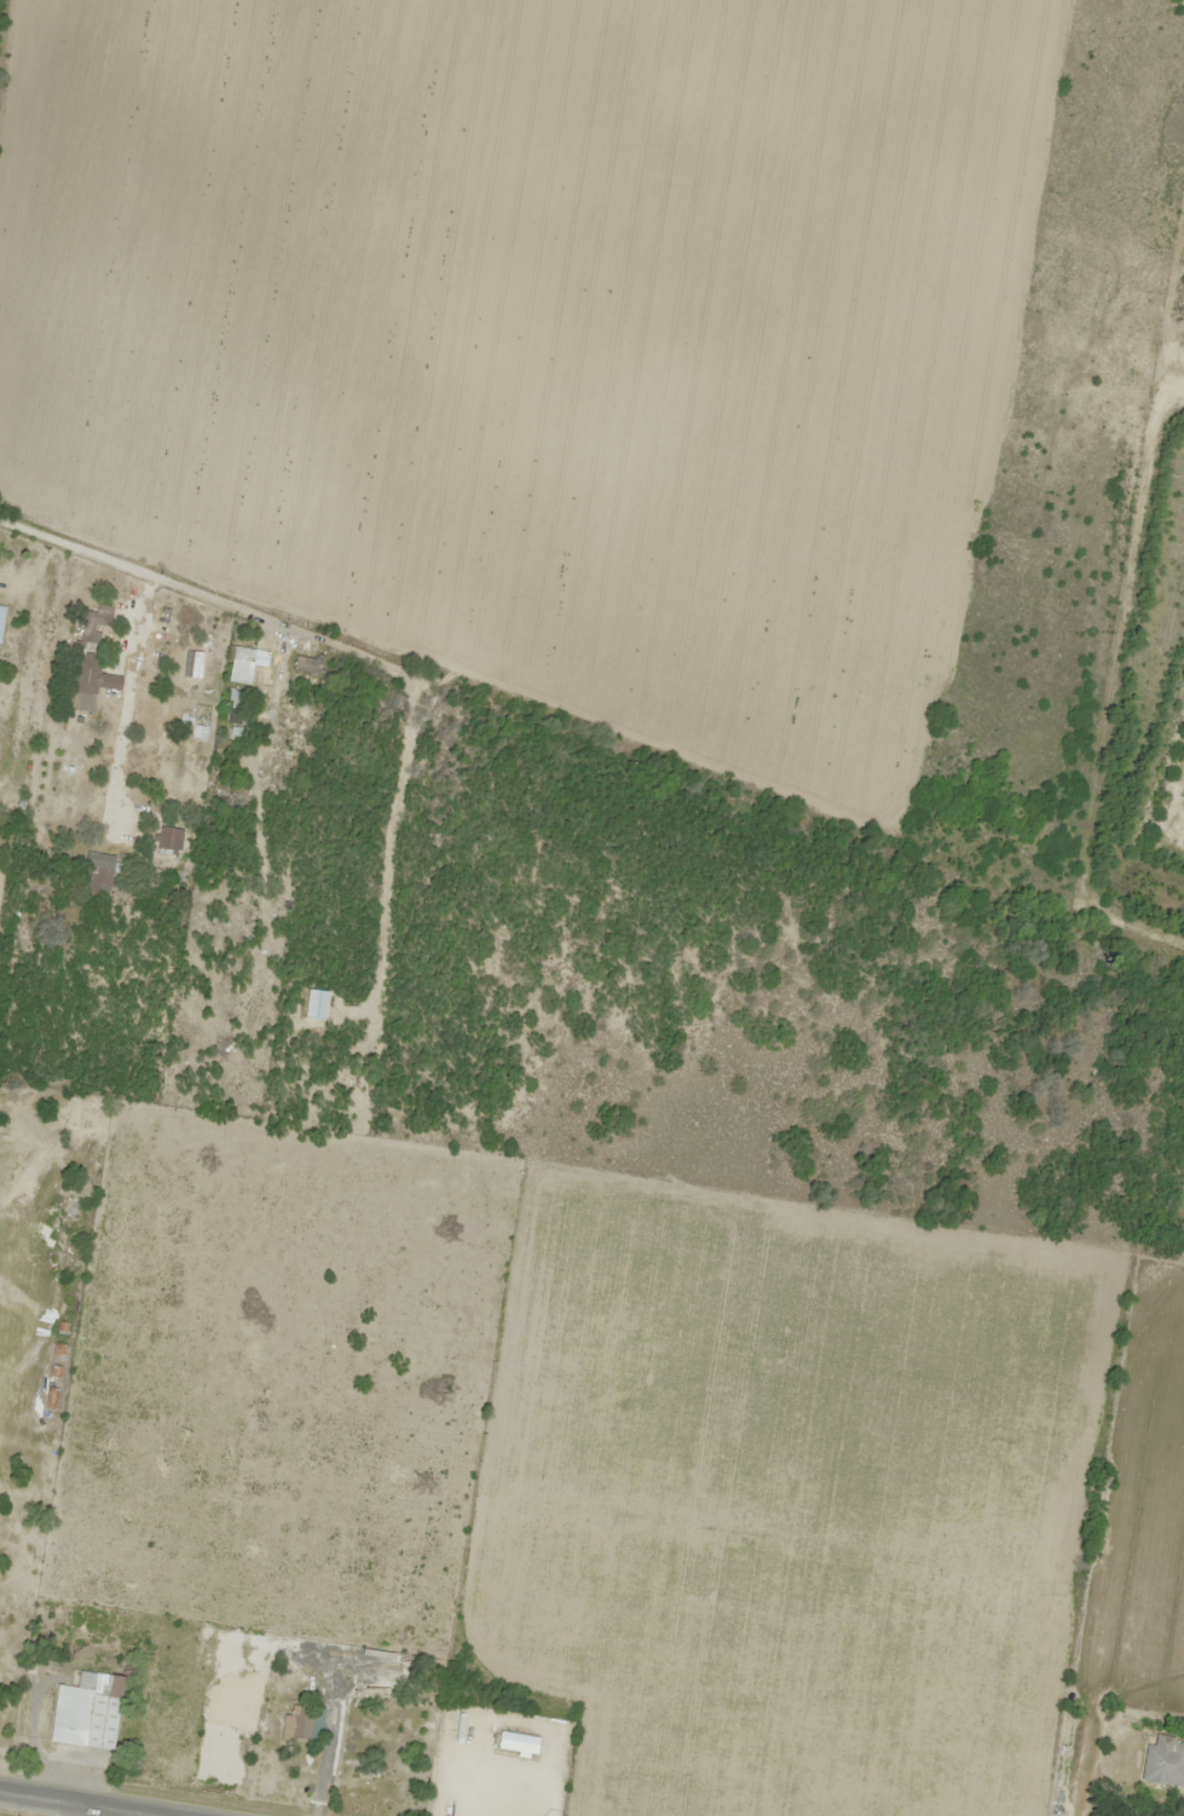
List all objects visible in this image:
building: (1, 615)
building: (94, 623)
building: (307, 664)
building: (192, 665)
building: (262, 679)
building: (92, 684)
building: (237, 709)
building: (200, 722)
building: (168, 838)
building: (317, 1004)
building: (50, 1400)
building: (372, 1693)
building: (87, 1712)
building: (296, 1725)
building: (516, 1745)
building: (1163, 1764)
building: (352, 1782)
road: (81, 1803)

